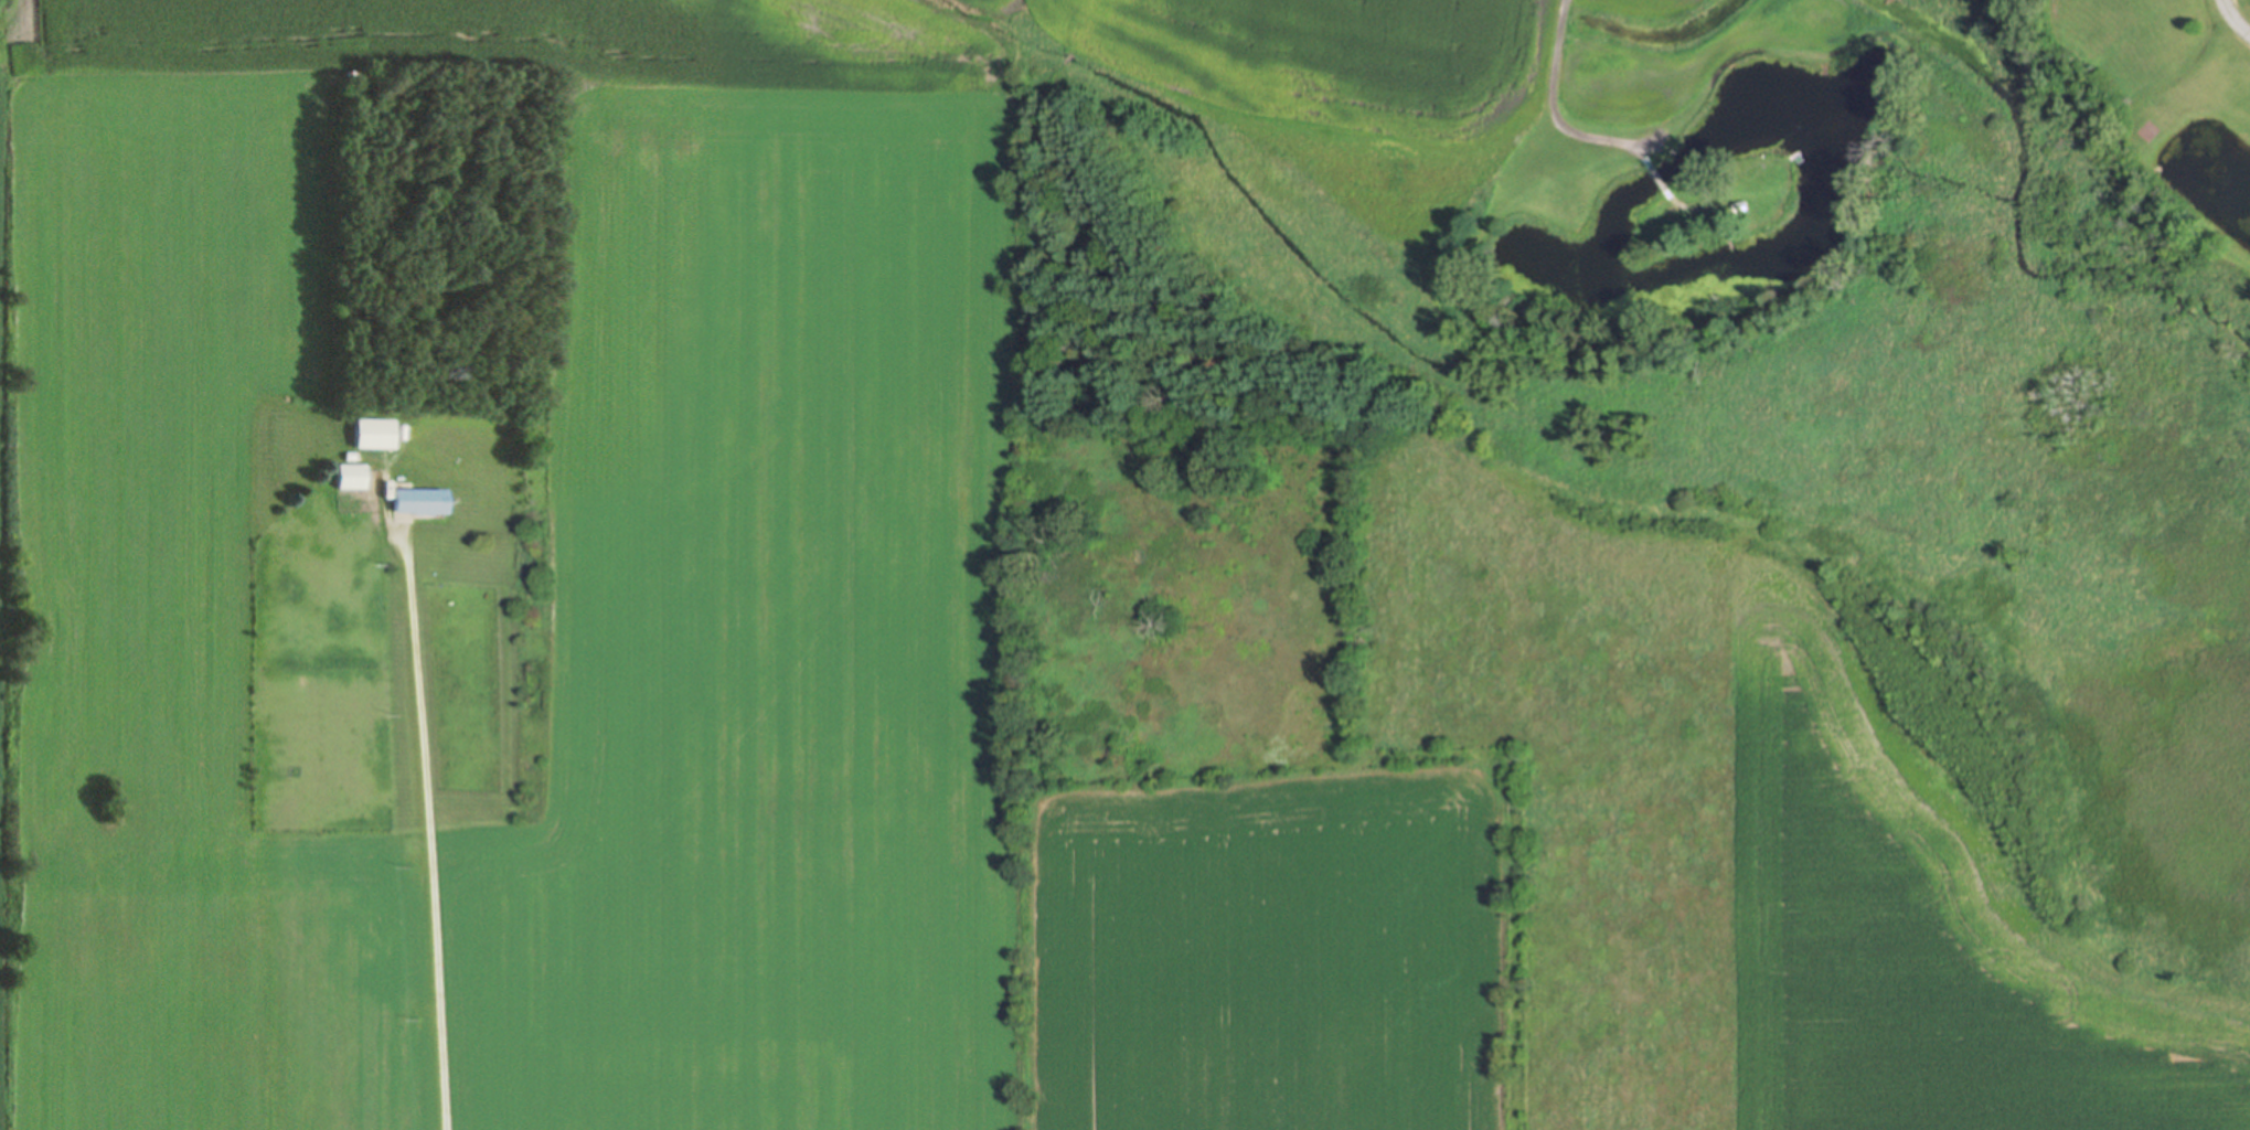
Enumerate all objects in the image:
road: (2232, 20)
road: (1919, 43)
building: (375, 435)
building: (351, 476)
building: (422, 500)
road: (424, 795)

